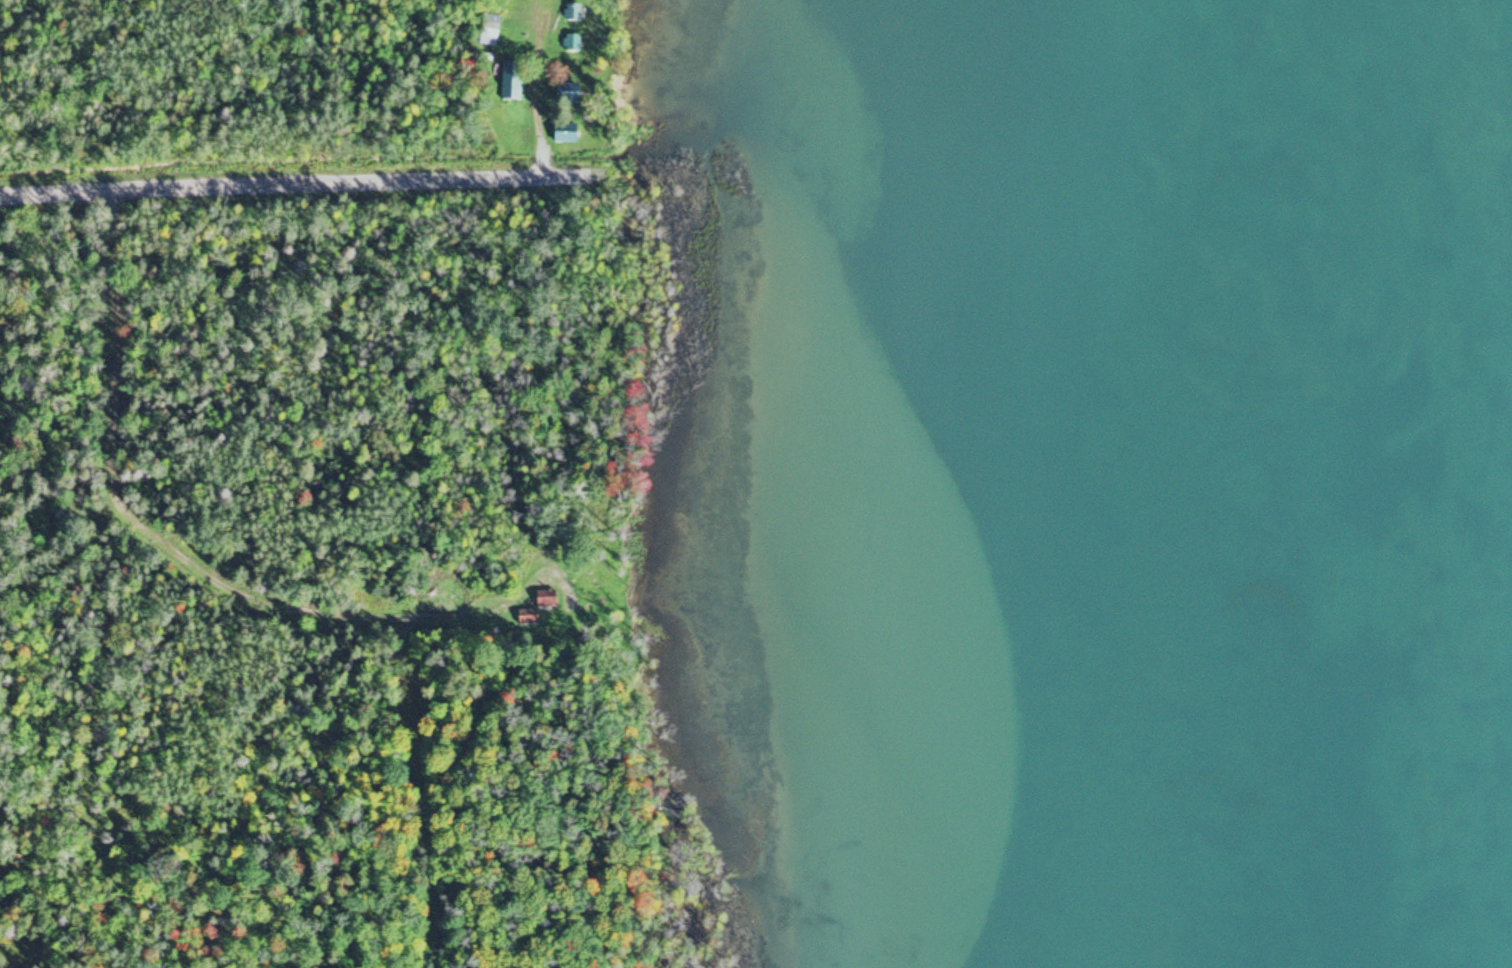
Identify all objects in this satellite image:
building: (492, 28)
building: (514, 81)
road: (344, 190)
road: (179, 550)

